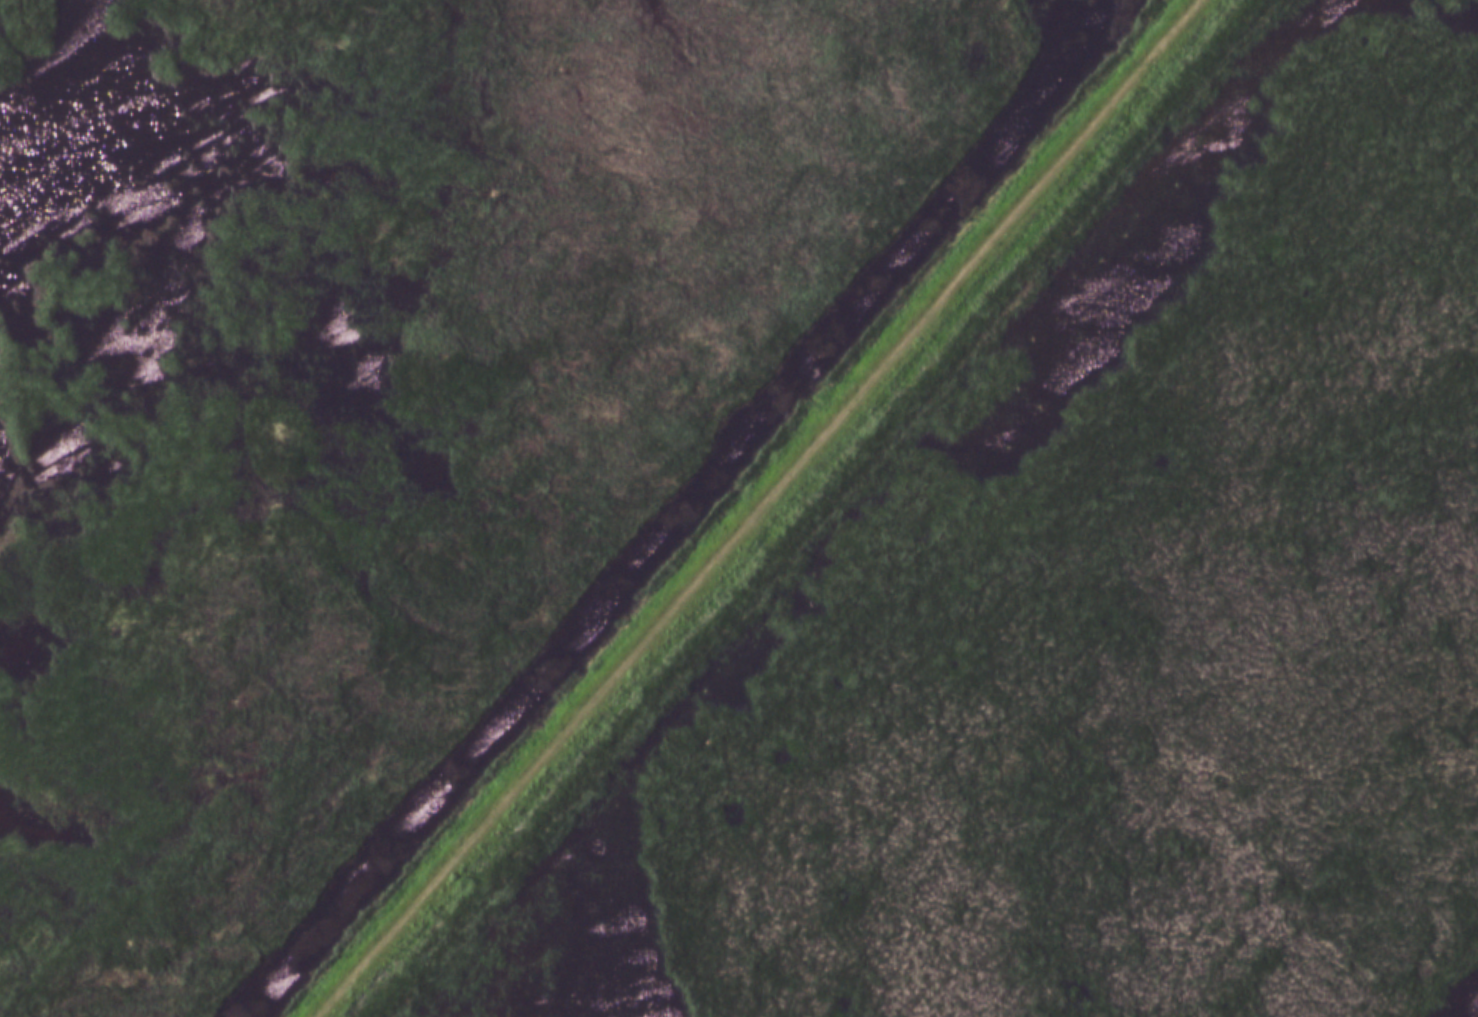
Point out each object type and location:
road: (760, 509)
dam: (789, 509)

